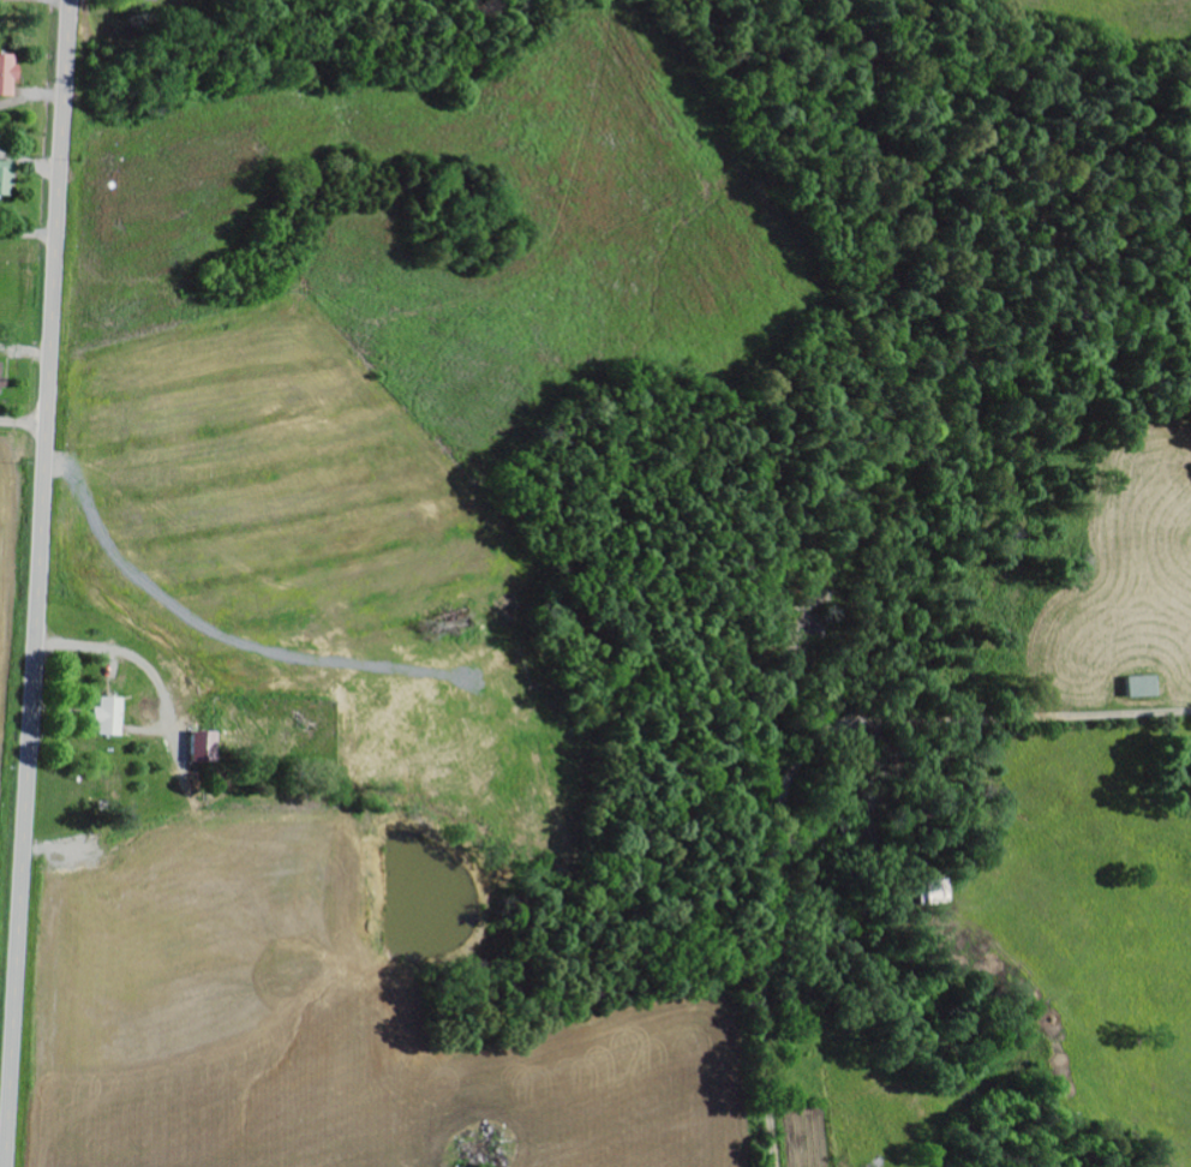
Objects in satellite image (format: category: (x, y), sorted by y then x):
building: (145, 0)
building: (7, 74)
building: (6, 178)
road: (28, 232)
building: (1, 377)
road: (24, 423)
road: (38, 583)
building: (1144, 688)
building: (110, 717)
building: (205, 748)
road: (800, 765)
building: (485, 1153)

